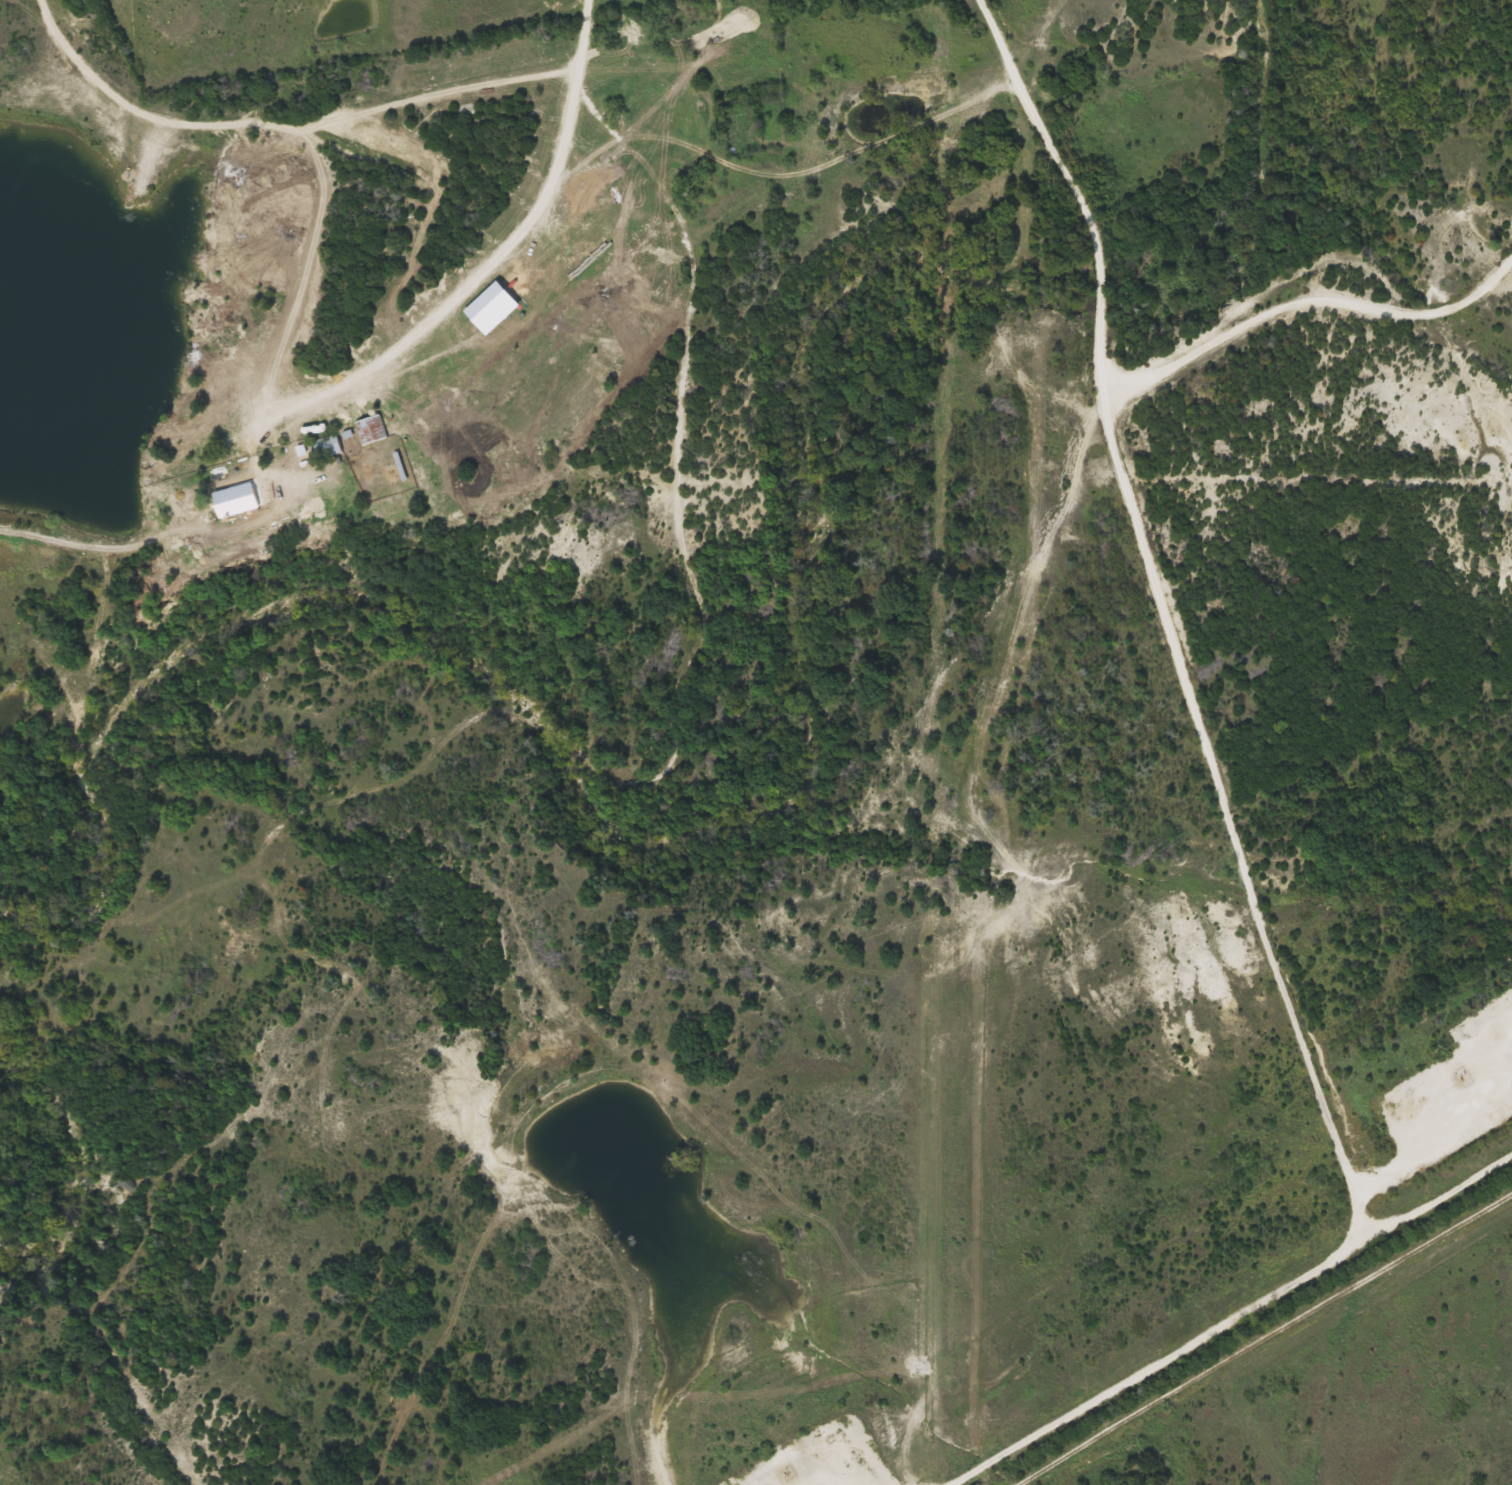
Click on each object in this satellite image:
road: (995, 41)
road: (311, 104)
road: (465, 275)
road: (1301, 288)
building: (369, 428)
building: (324, 446)
building: (229, 499)
road: (1175, 650)
road: (1438, 1137)
road: (1262, 1336)

